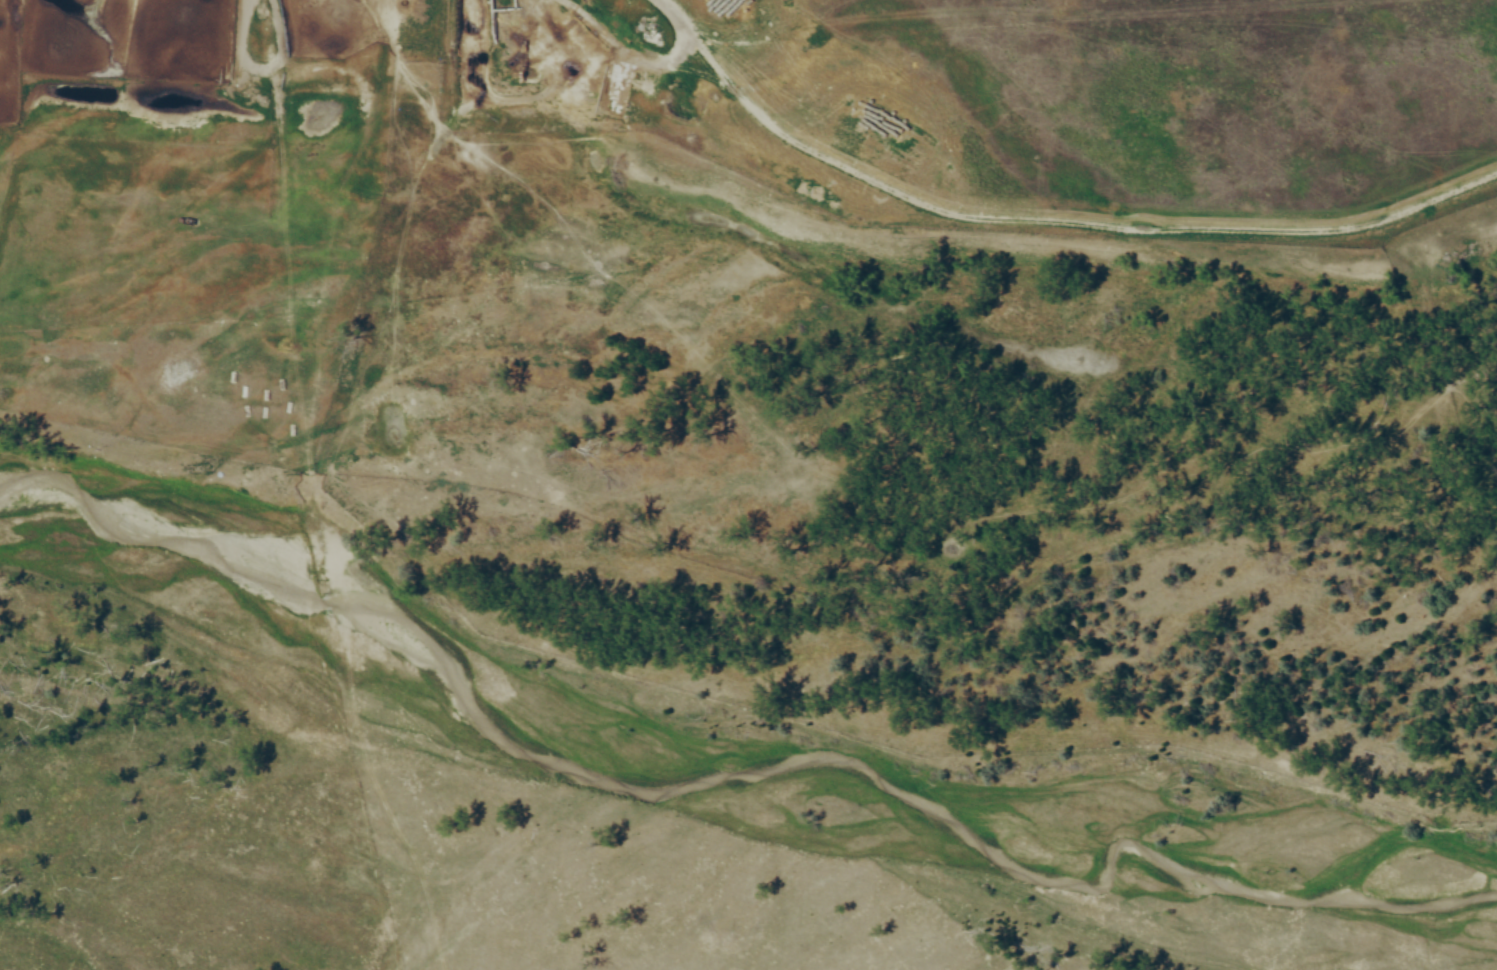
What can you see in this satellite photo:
river: (719, 778)

